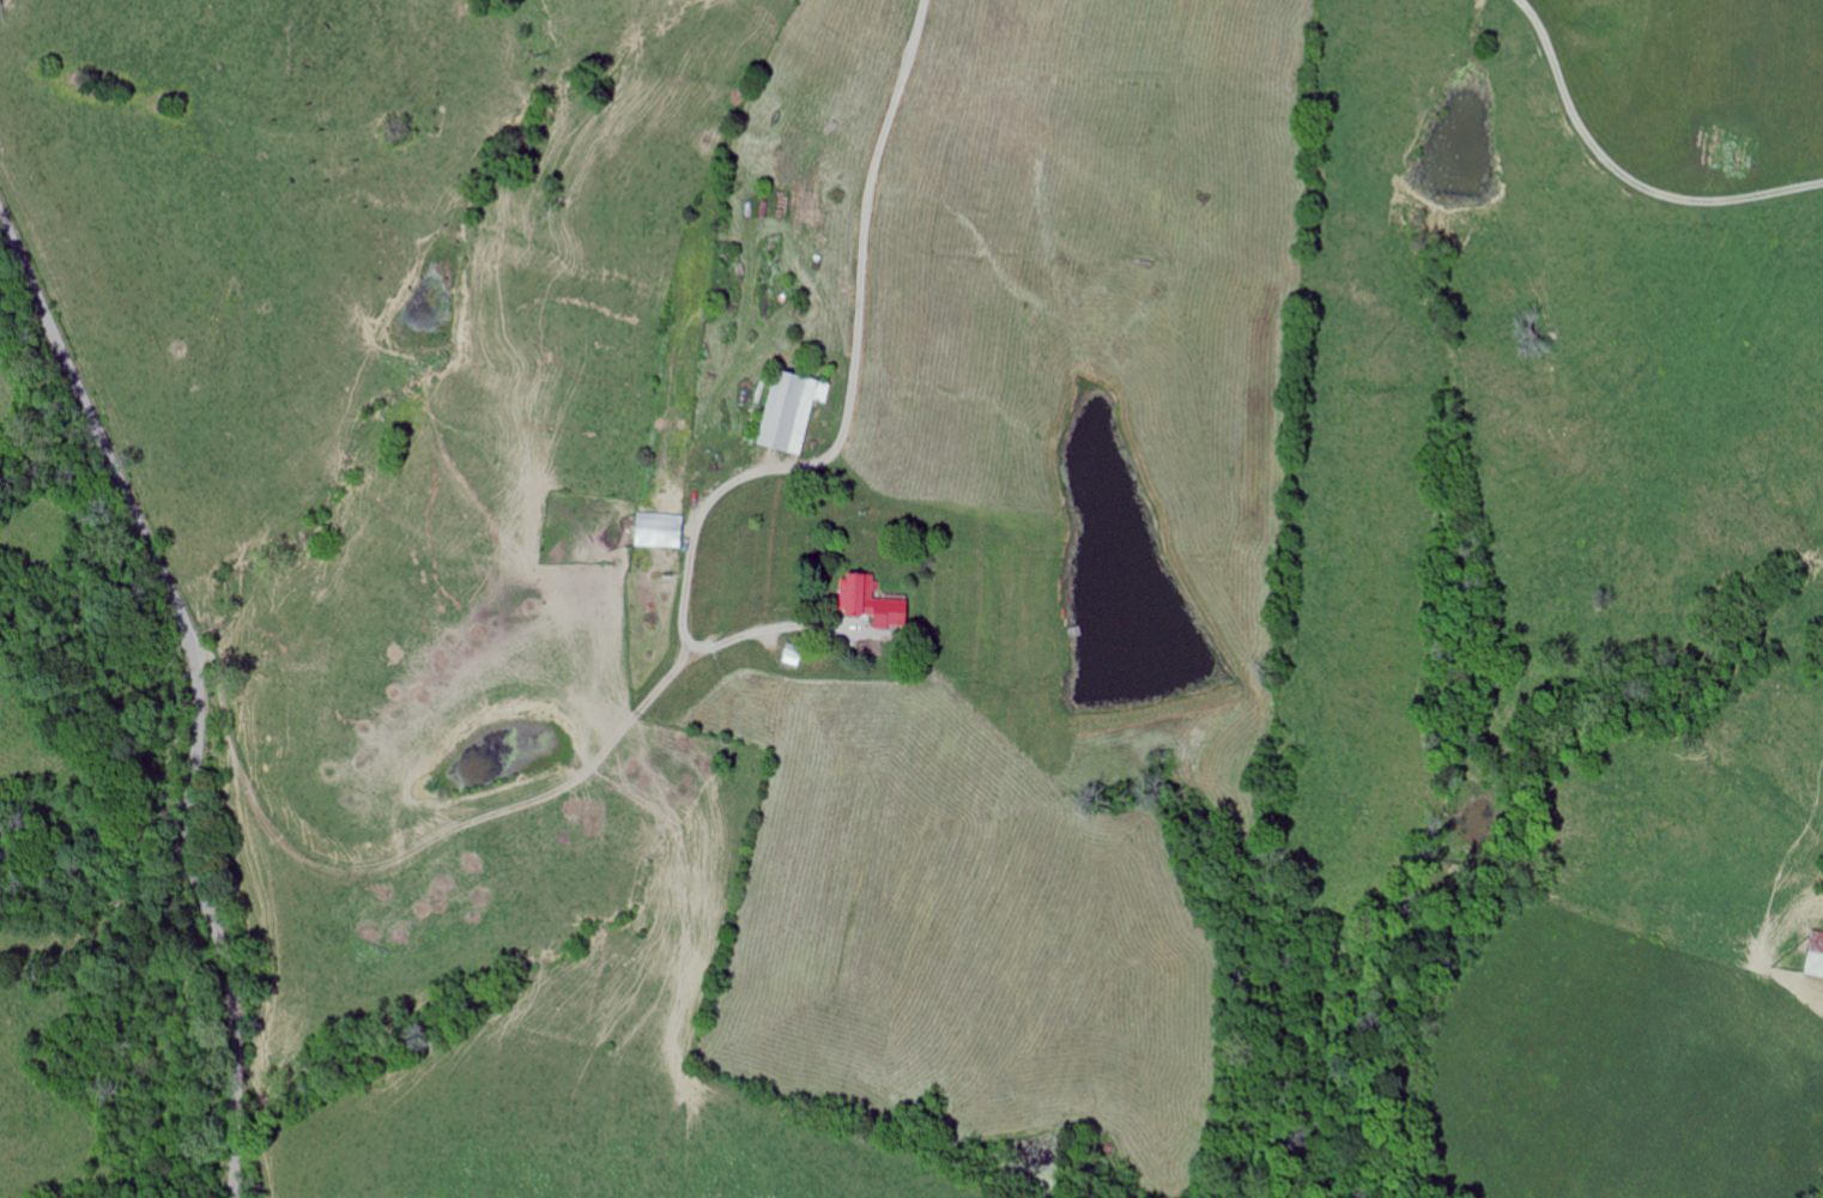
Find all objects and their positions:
road: (1623, 174)
building: (794, 411)
road: (835, 448)
building: (662, 531)
building: (794, 657)
road: (195, 688)
building: (1817, 957)

